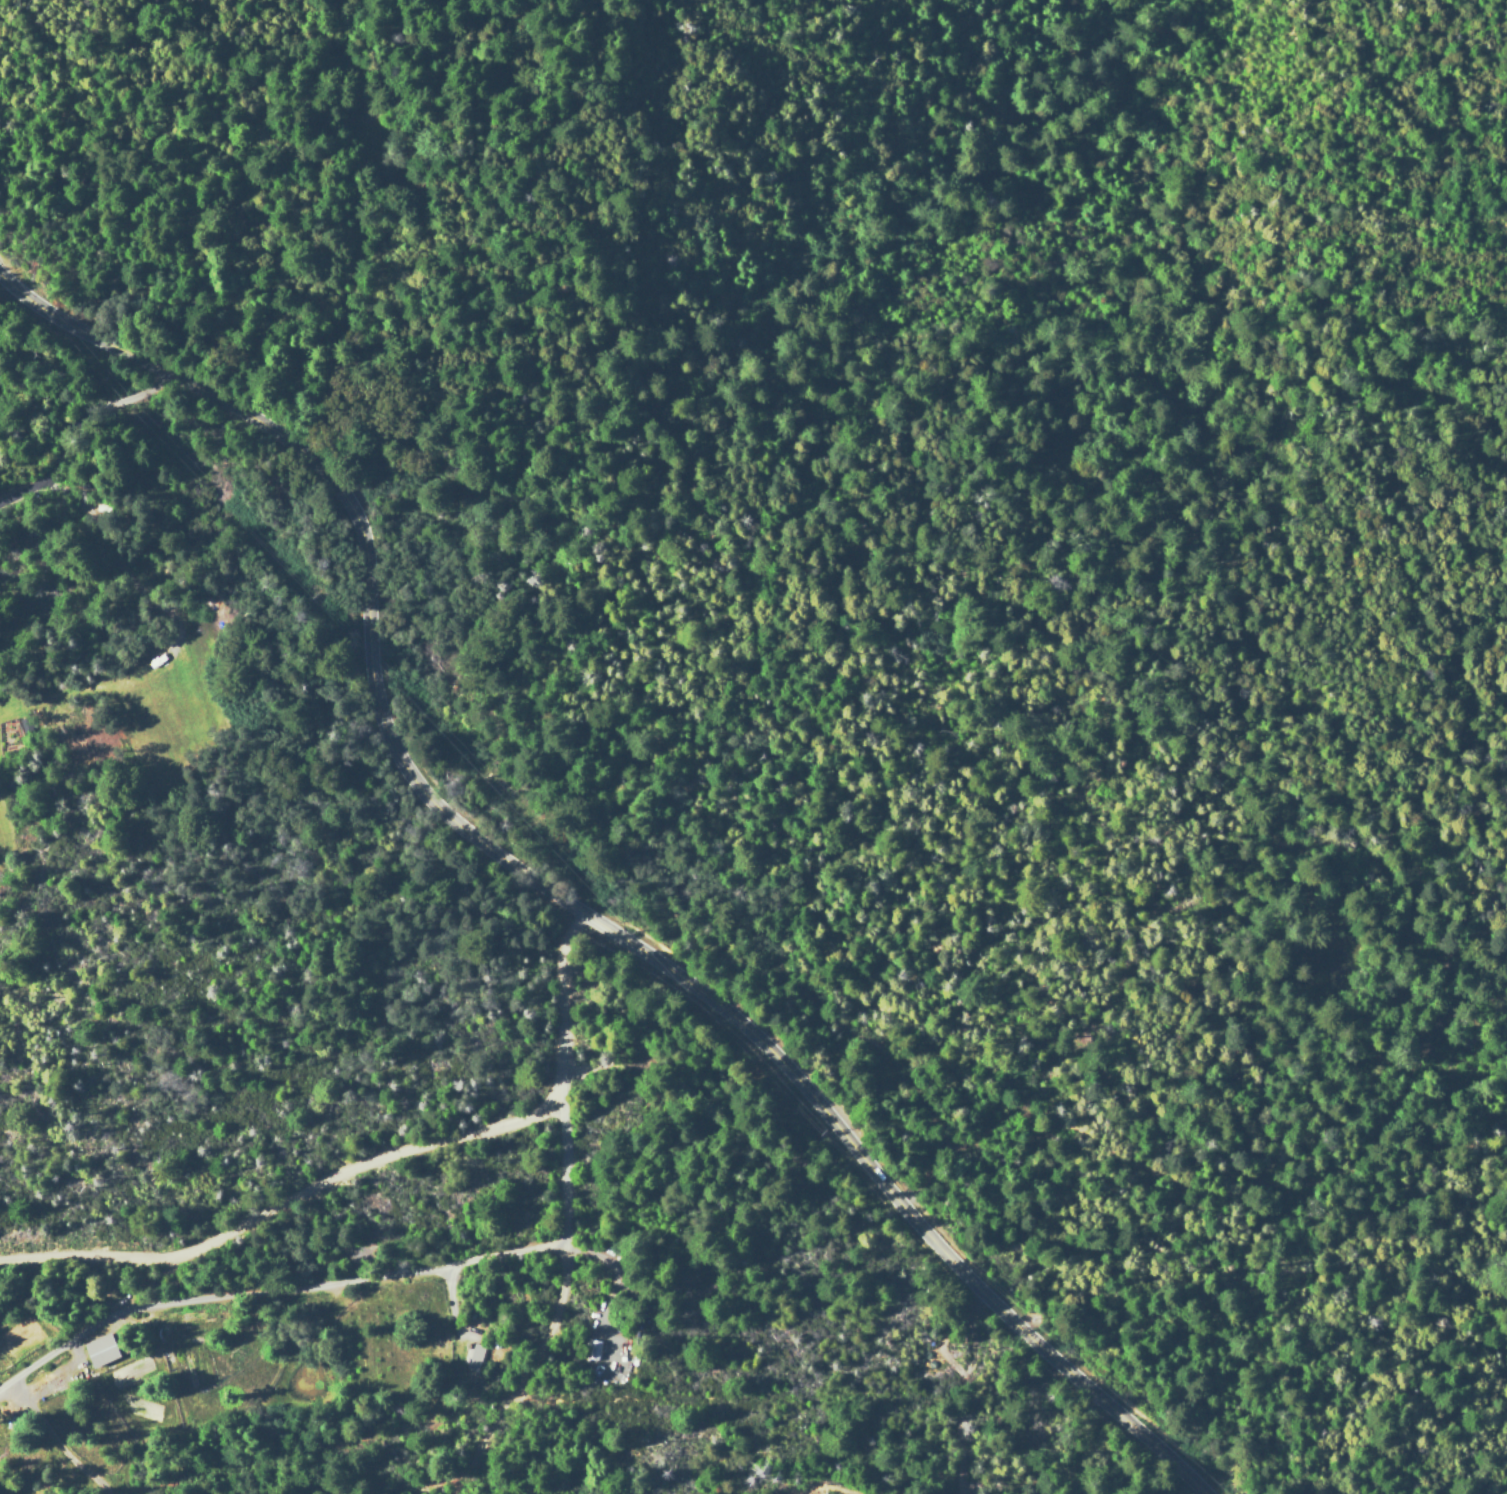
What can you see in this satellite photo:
road: (553, 895)
road: (261, 1217)
road: (566, 1224)
road: (94, 1257)
building: (97, 1350)
building: (473, 1355)

